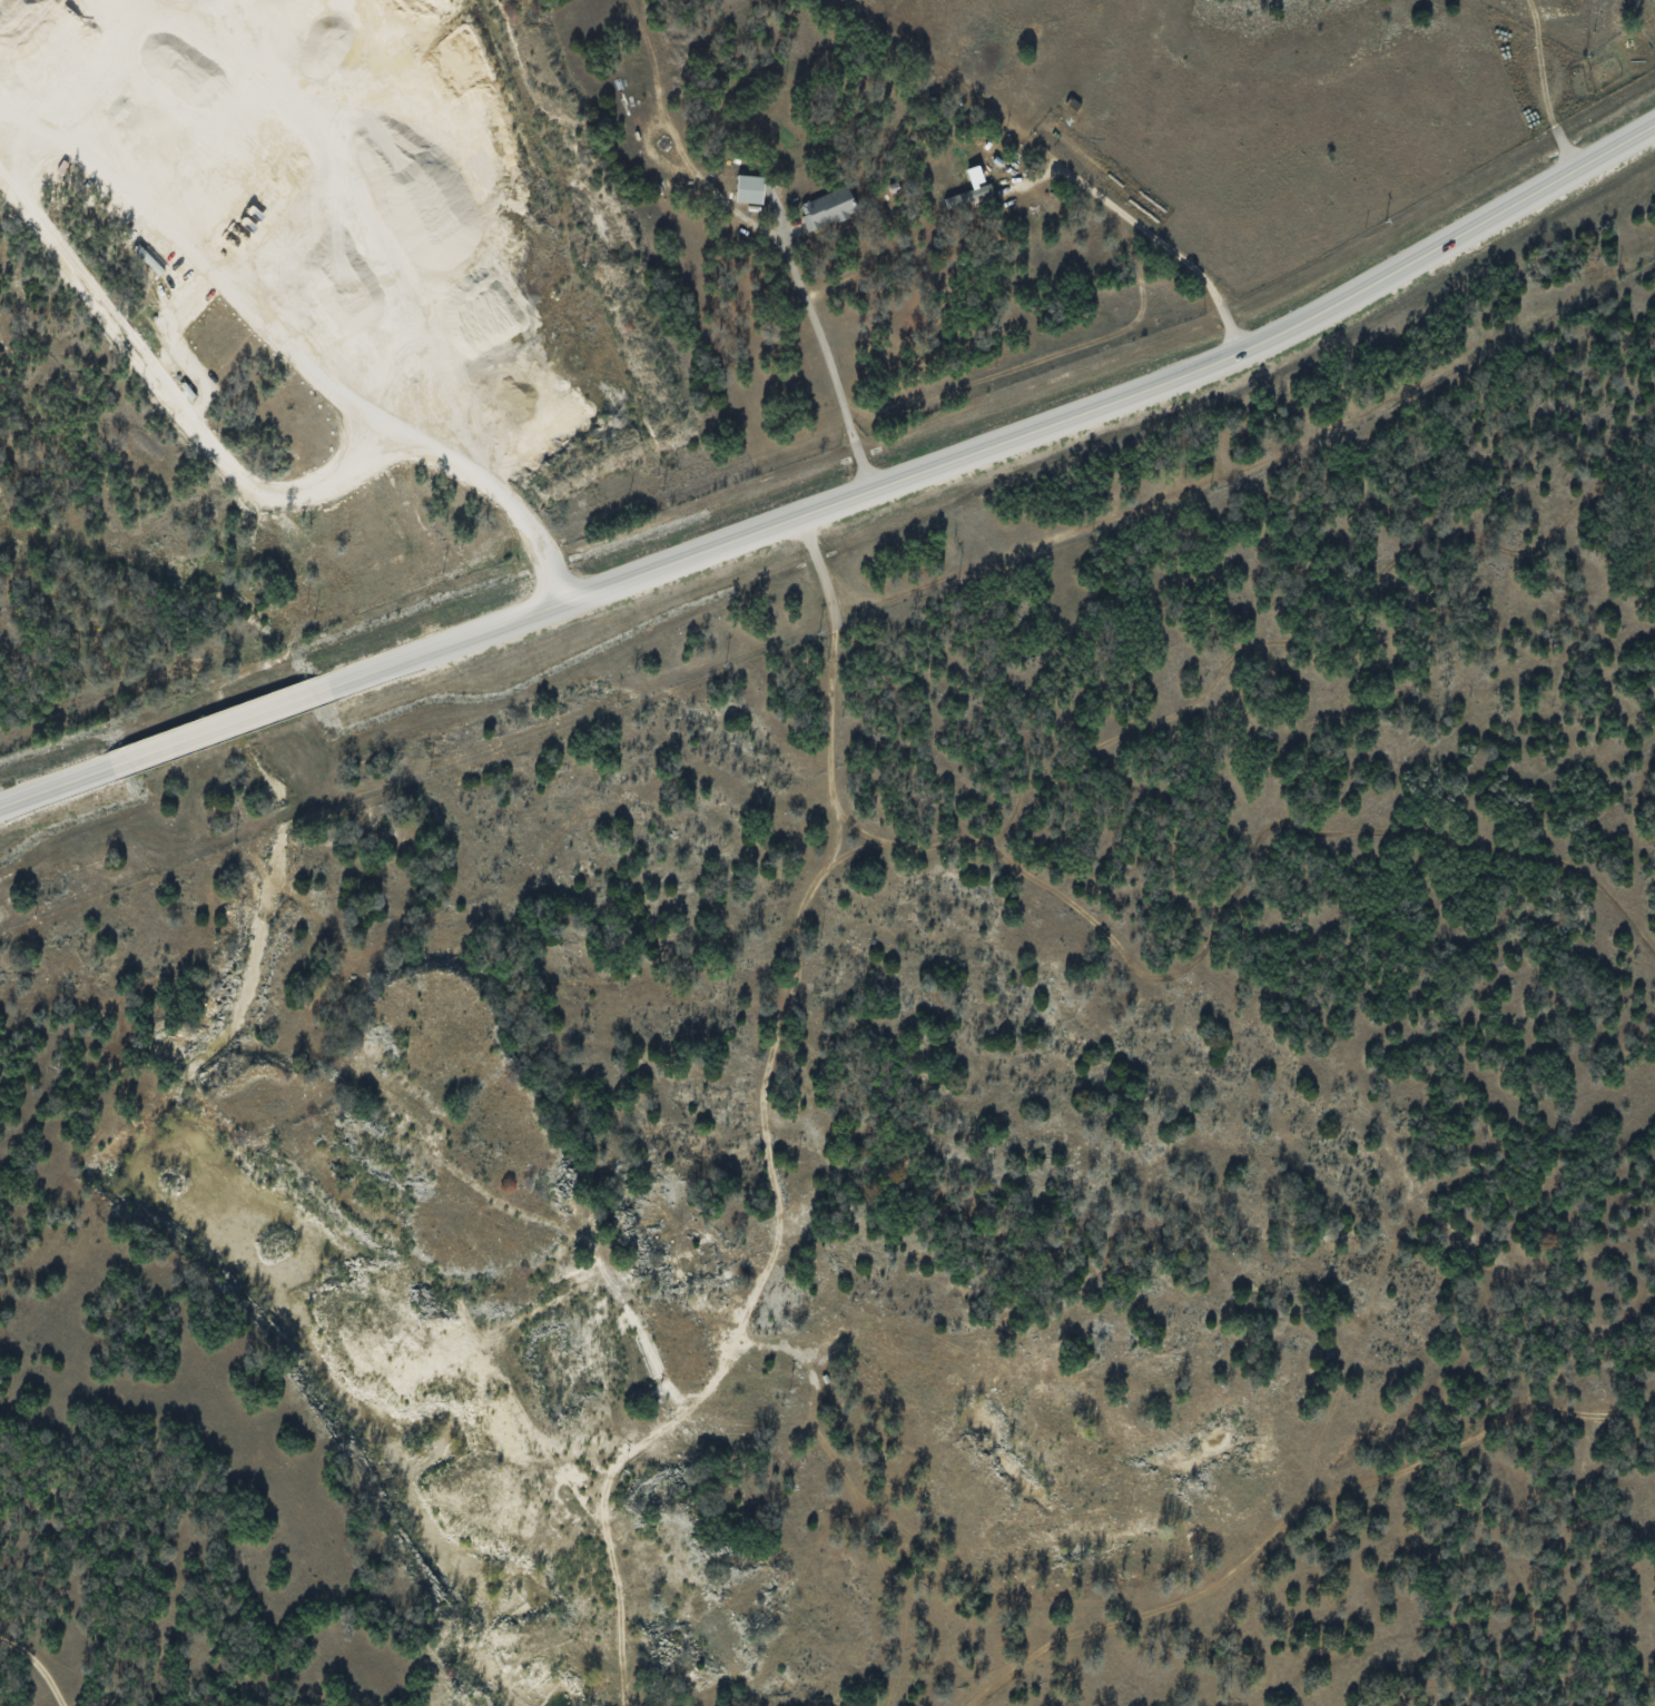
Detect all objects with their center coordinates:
quarry: (225, 135)
building: (750, 188)
building: (967, 196)
building: (826, 207)
road: (1147, 233)
road: (826, 359)
road: (371, 417)
road: (841, 496)

